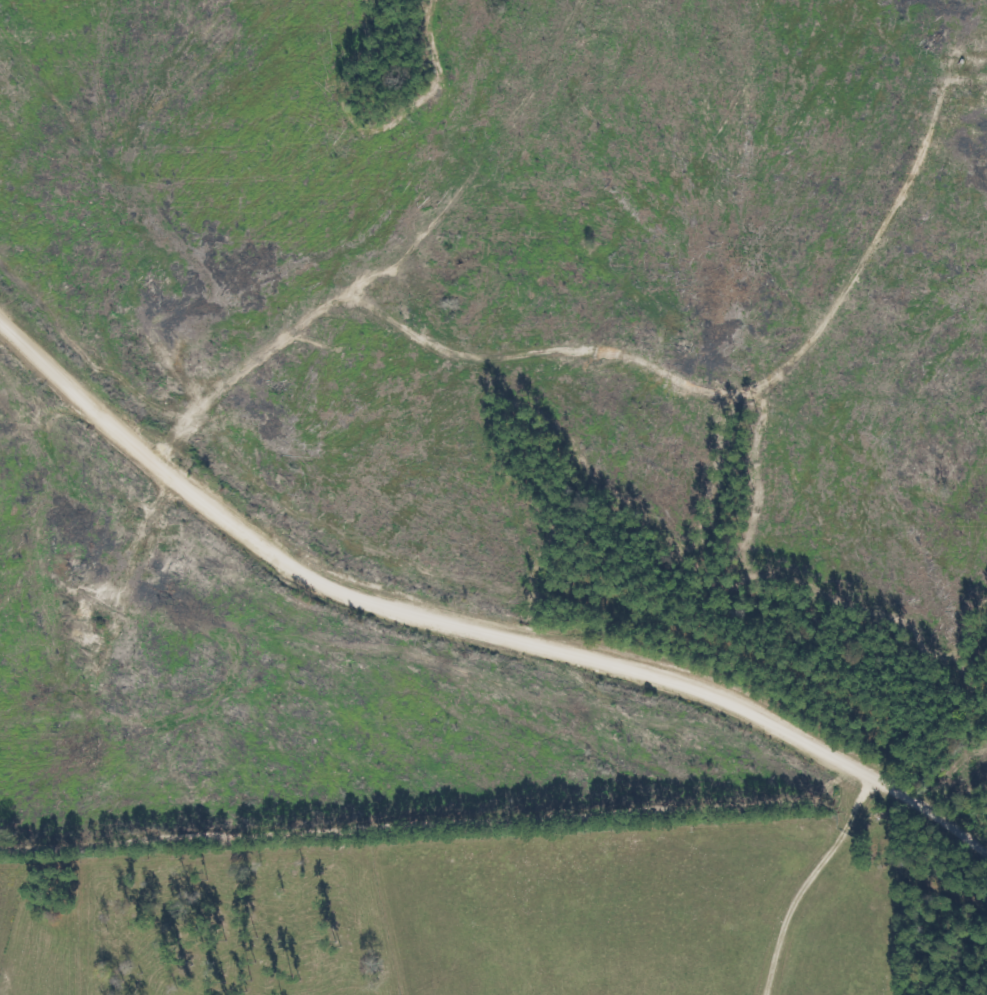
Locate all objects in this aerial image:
road: (8, 200)
road: (202, 411)
road: (527, 602)
road: (468, 651)
road: (957, 777)
road: (983, 993)

